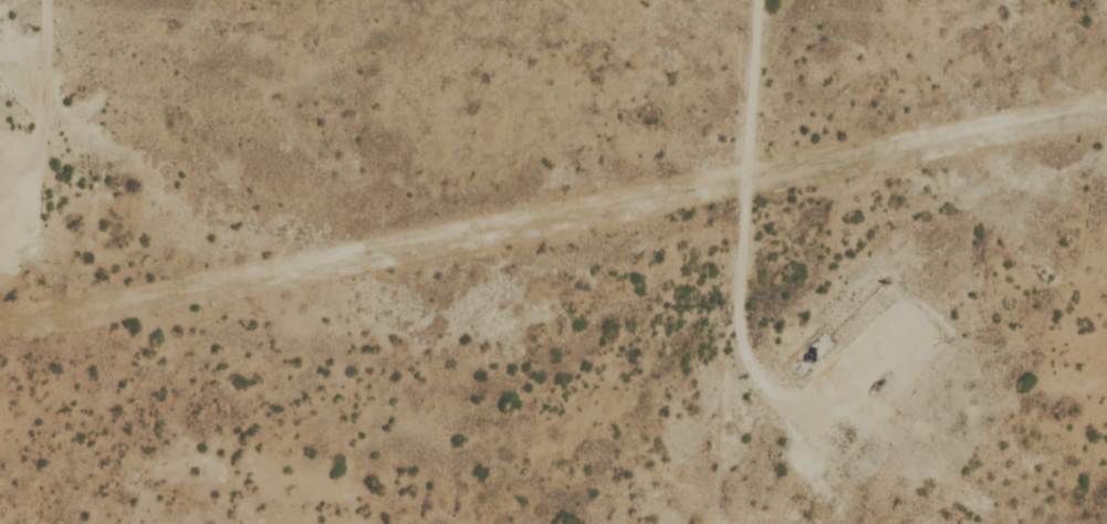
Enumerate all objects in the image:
road: (20, 61)

